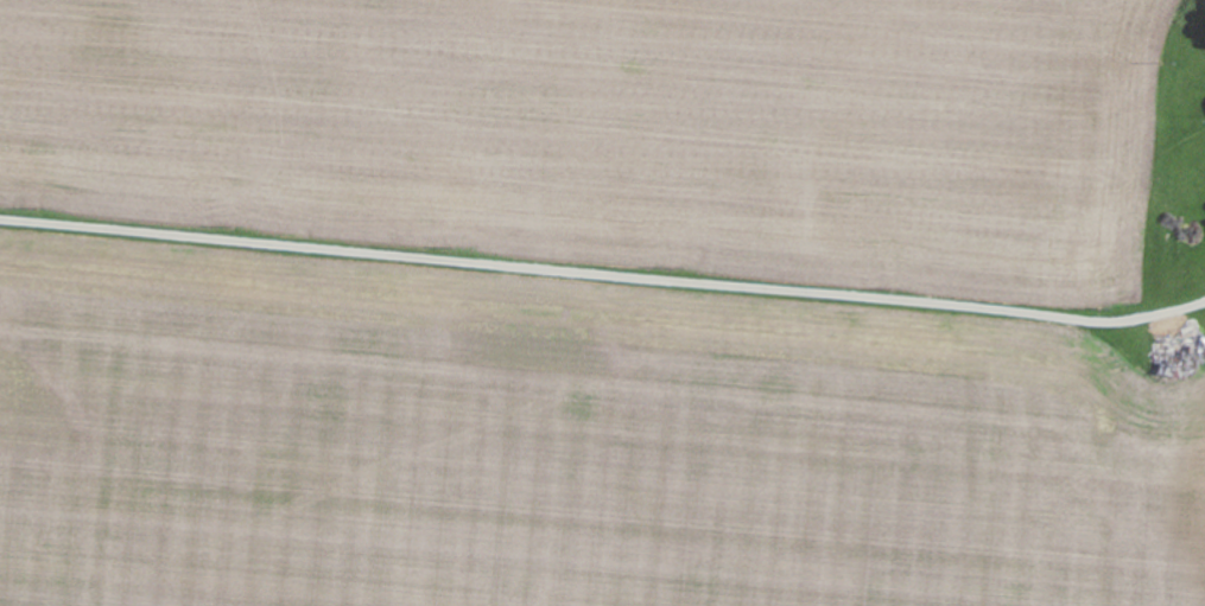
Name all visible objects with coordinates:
road: (607, 241)

